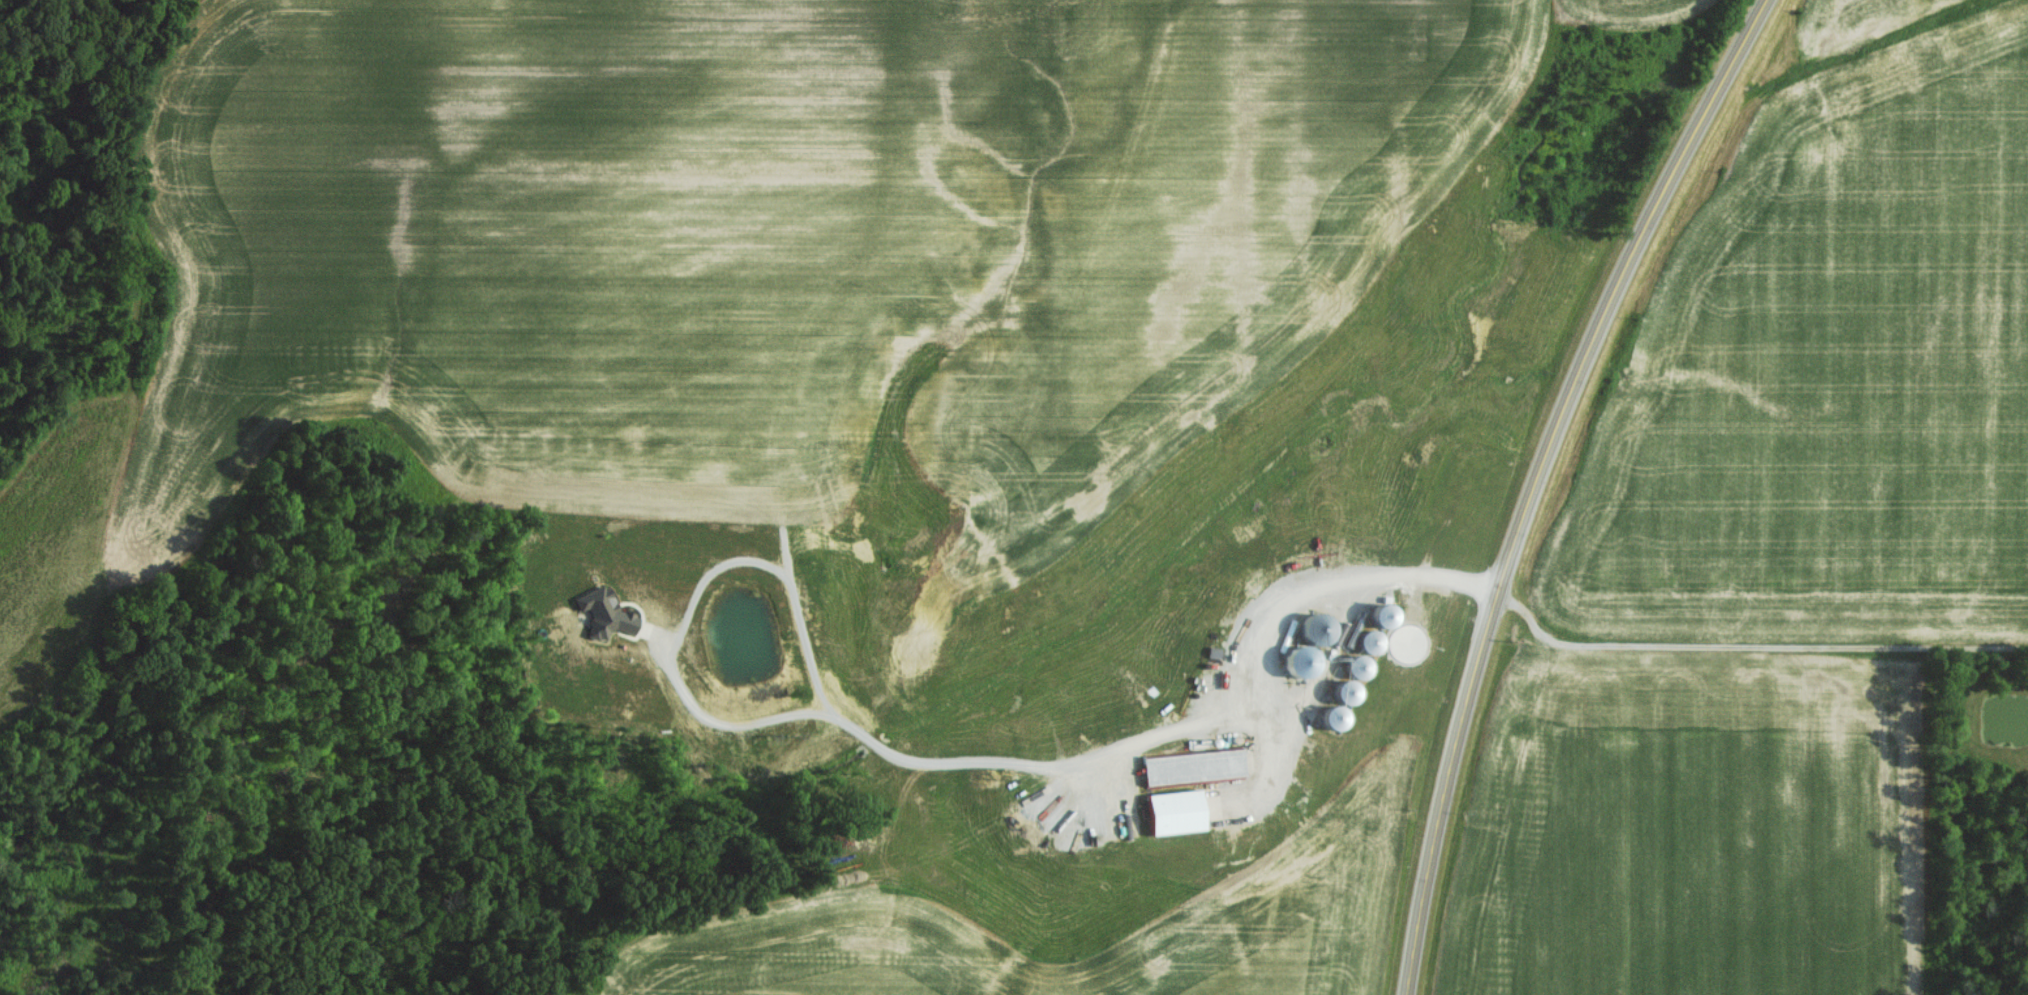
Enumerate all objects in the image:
road: (1536, 479)
building: (1385, 621)
building: (1316, 628)
road: (1752, 647)
building: (1301, 661)
building: (1360, 667)
building: (1346, 692)
building: (1336, 718)
road: (947, 763)
building: (1194, 767)
building: (1177, 812)

